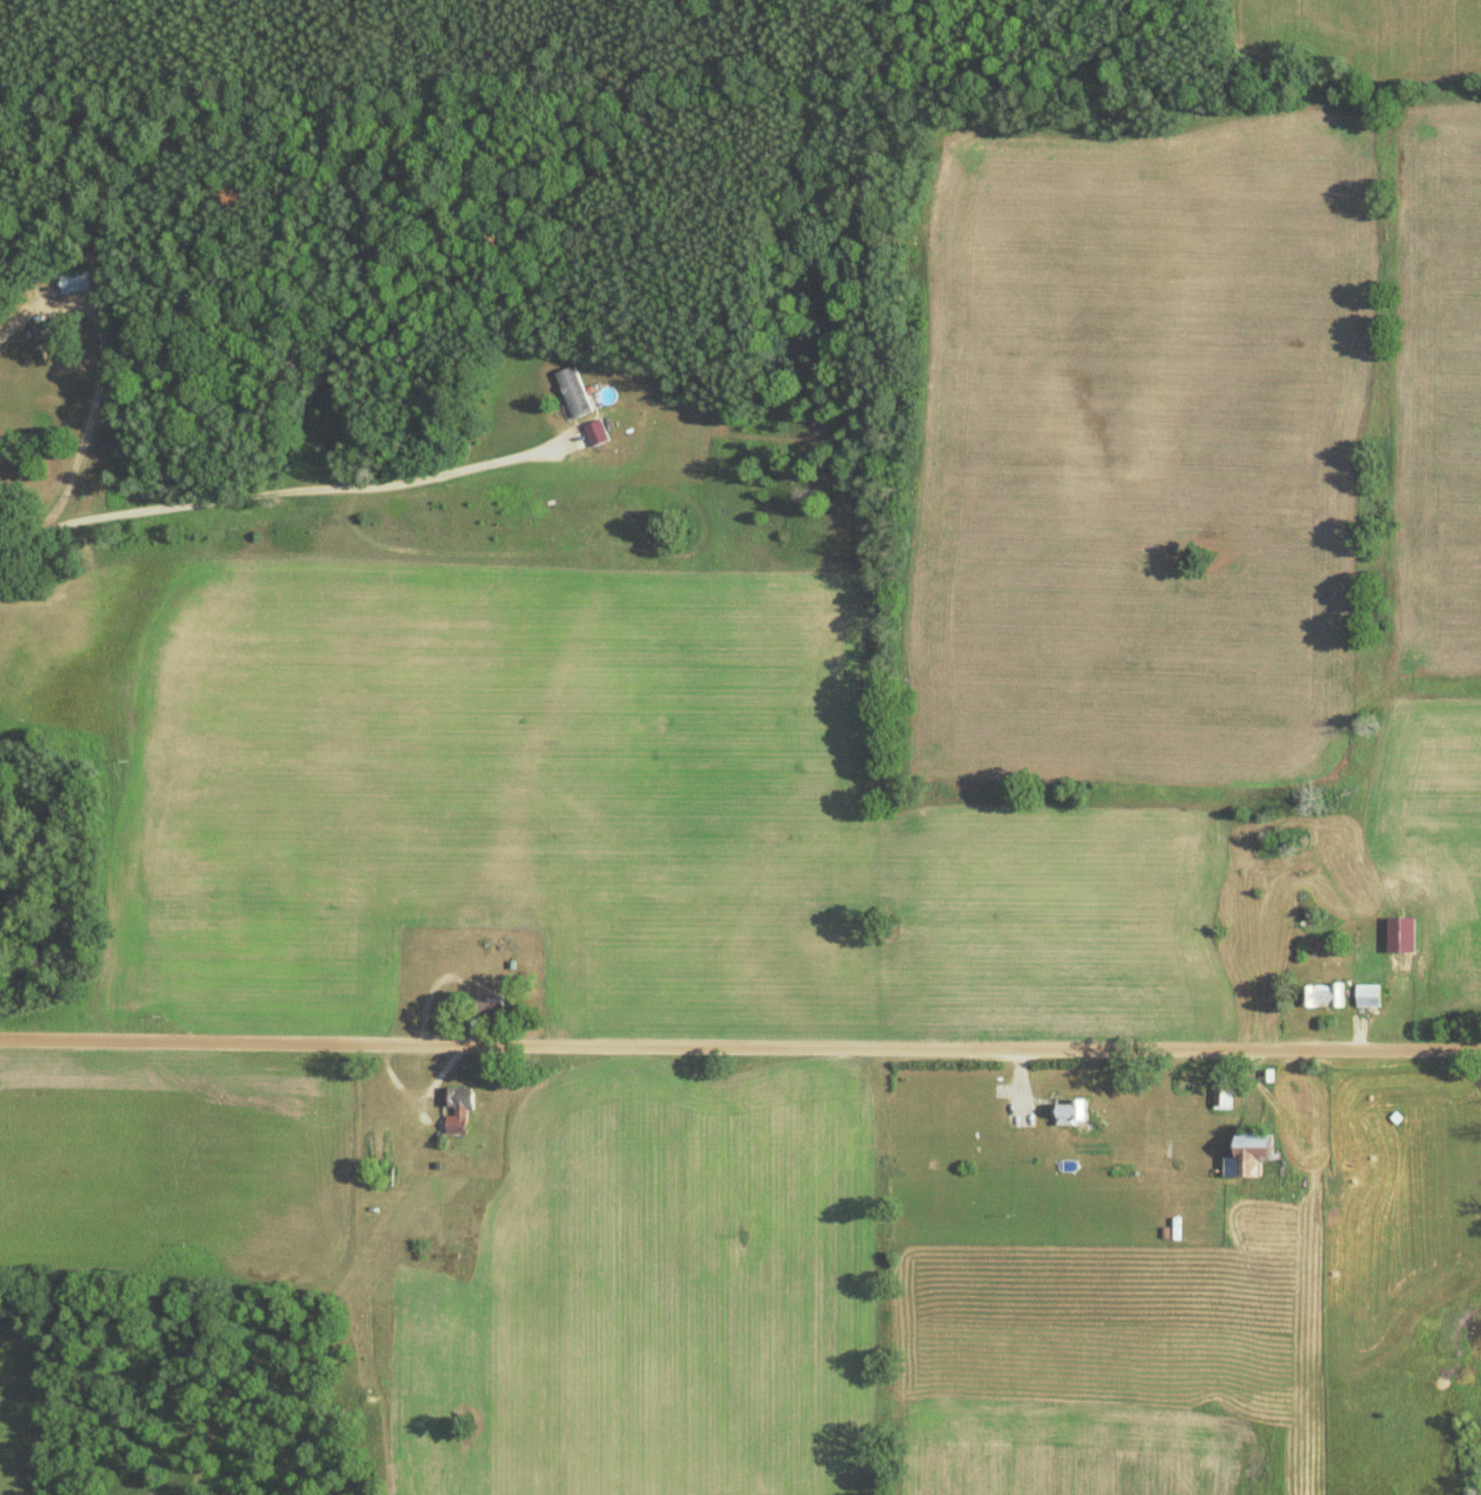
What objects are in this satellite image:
building: (72, 283)
building: (45, 332)
building: (572, 392)
road: (93, 394)
building: (593, 432)
road: (292, 489)
building: (1320, 996)
building: (1365, 996)
building: (487, 1006)
road: (740, 1041)
building: (1221, 1089)
building: (454, 1110)
building: (1068, 1113)
building: (1246, 1156)

